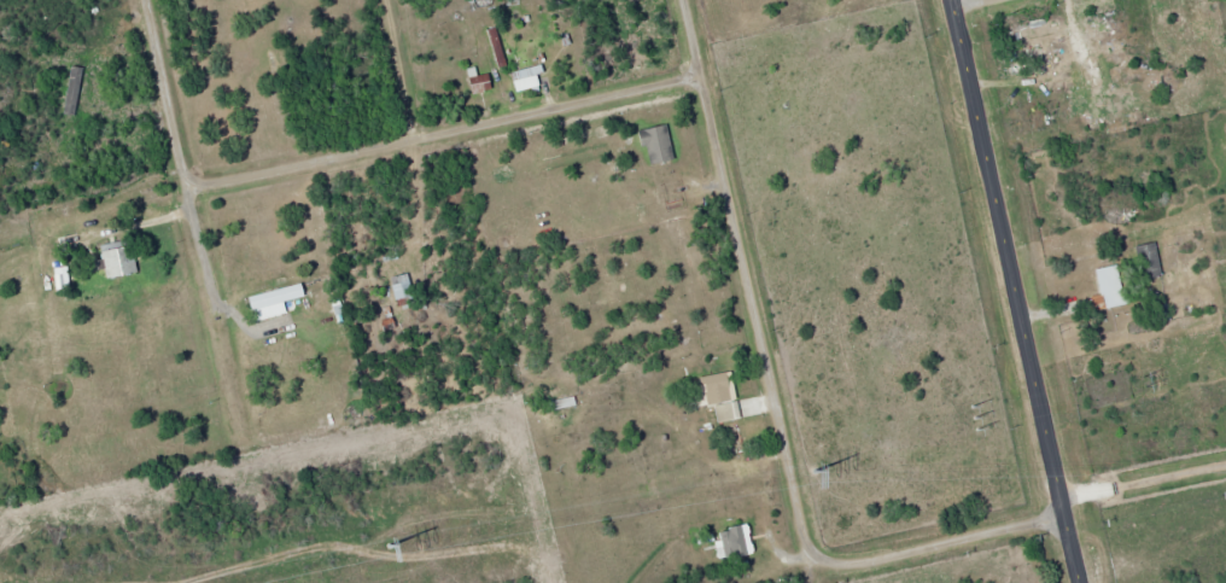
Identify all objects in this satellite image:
road: (974, 5)
road: (690, 37)
road: (396, 71)
building: (527, 80)
road: (445, 133)
road: (179, 161)
building: (117, 258)
building: (1145, 261)
building: (1104, 288)
building: (403, 290)
road: (1014, 291)
building: (278, 296)
building: (0, 357)
power tower: (1144, 379)
building: (720, 395)
power tower: (973, 416)
road: (782, 442)
power tower: (815, 468)
road: (1143, 480)
building: (737, 541)
power tower: (389, 546)

